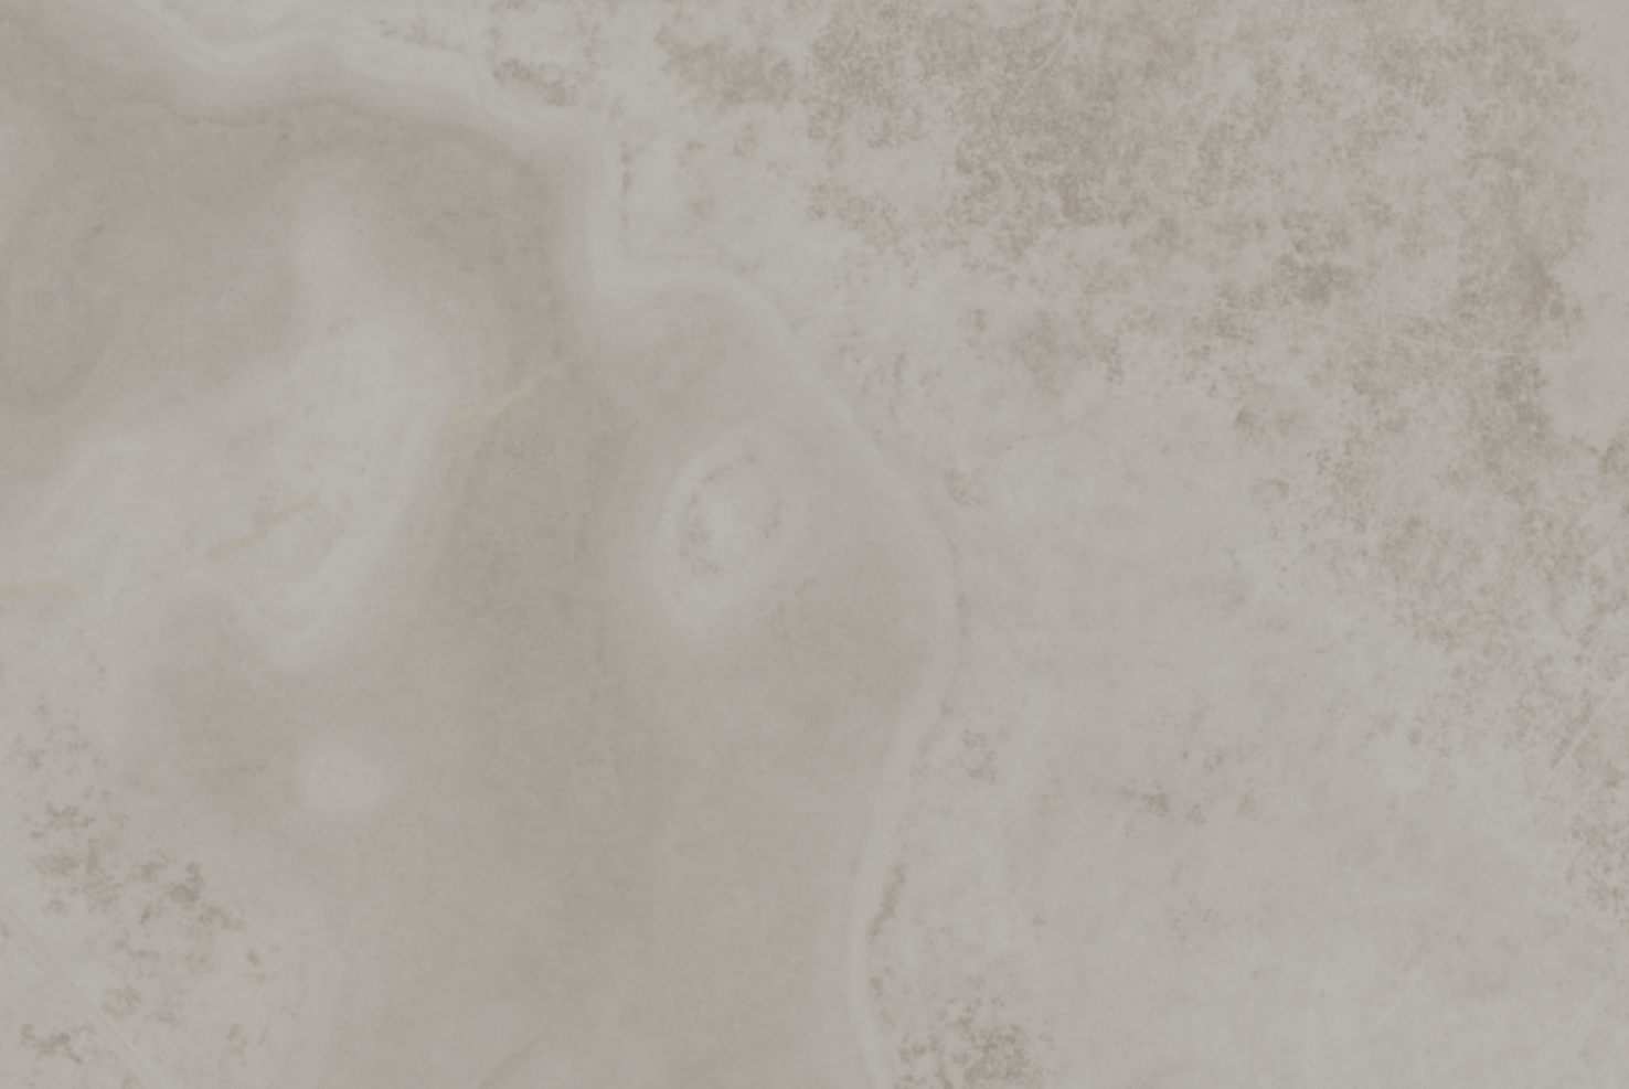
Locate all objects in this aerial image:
road: (73, 996)

